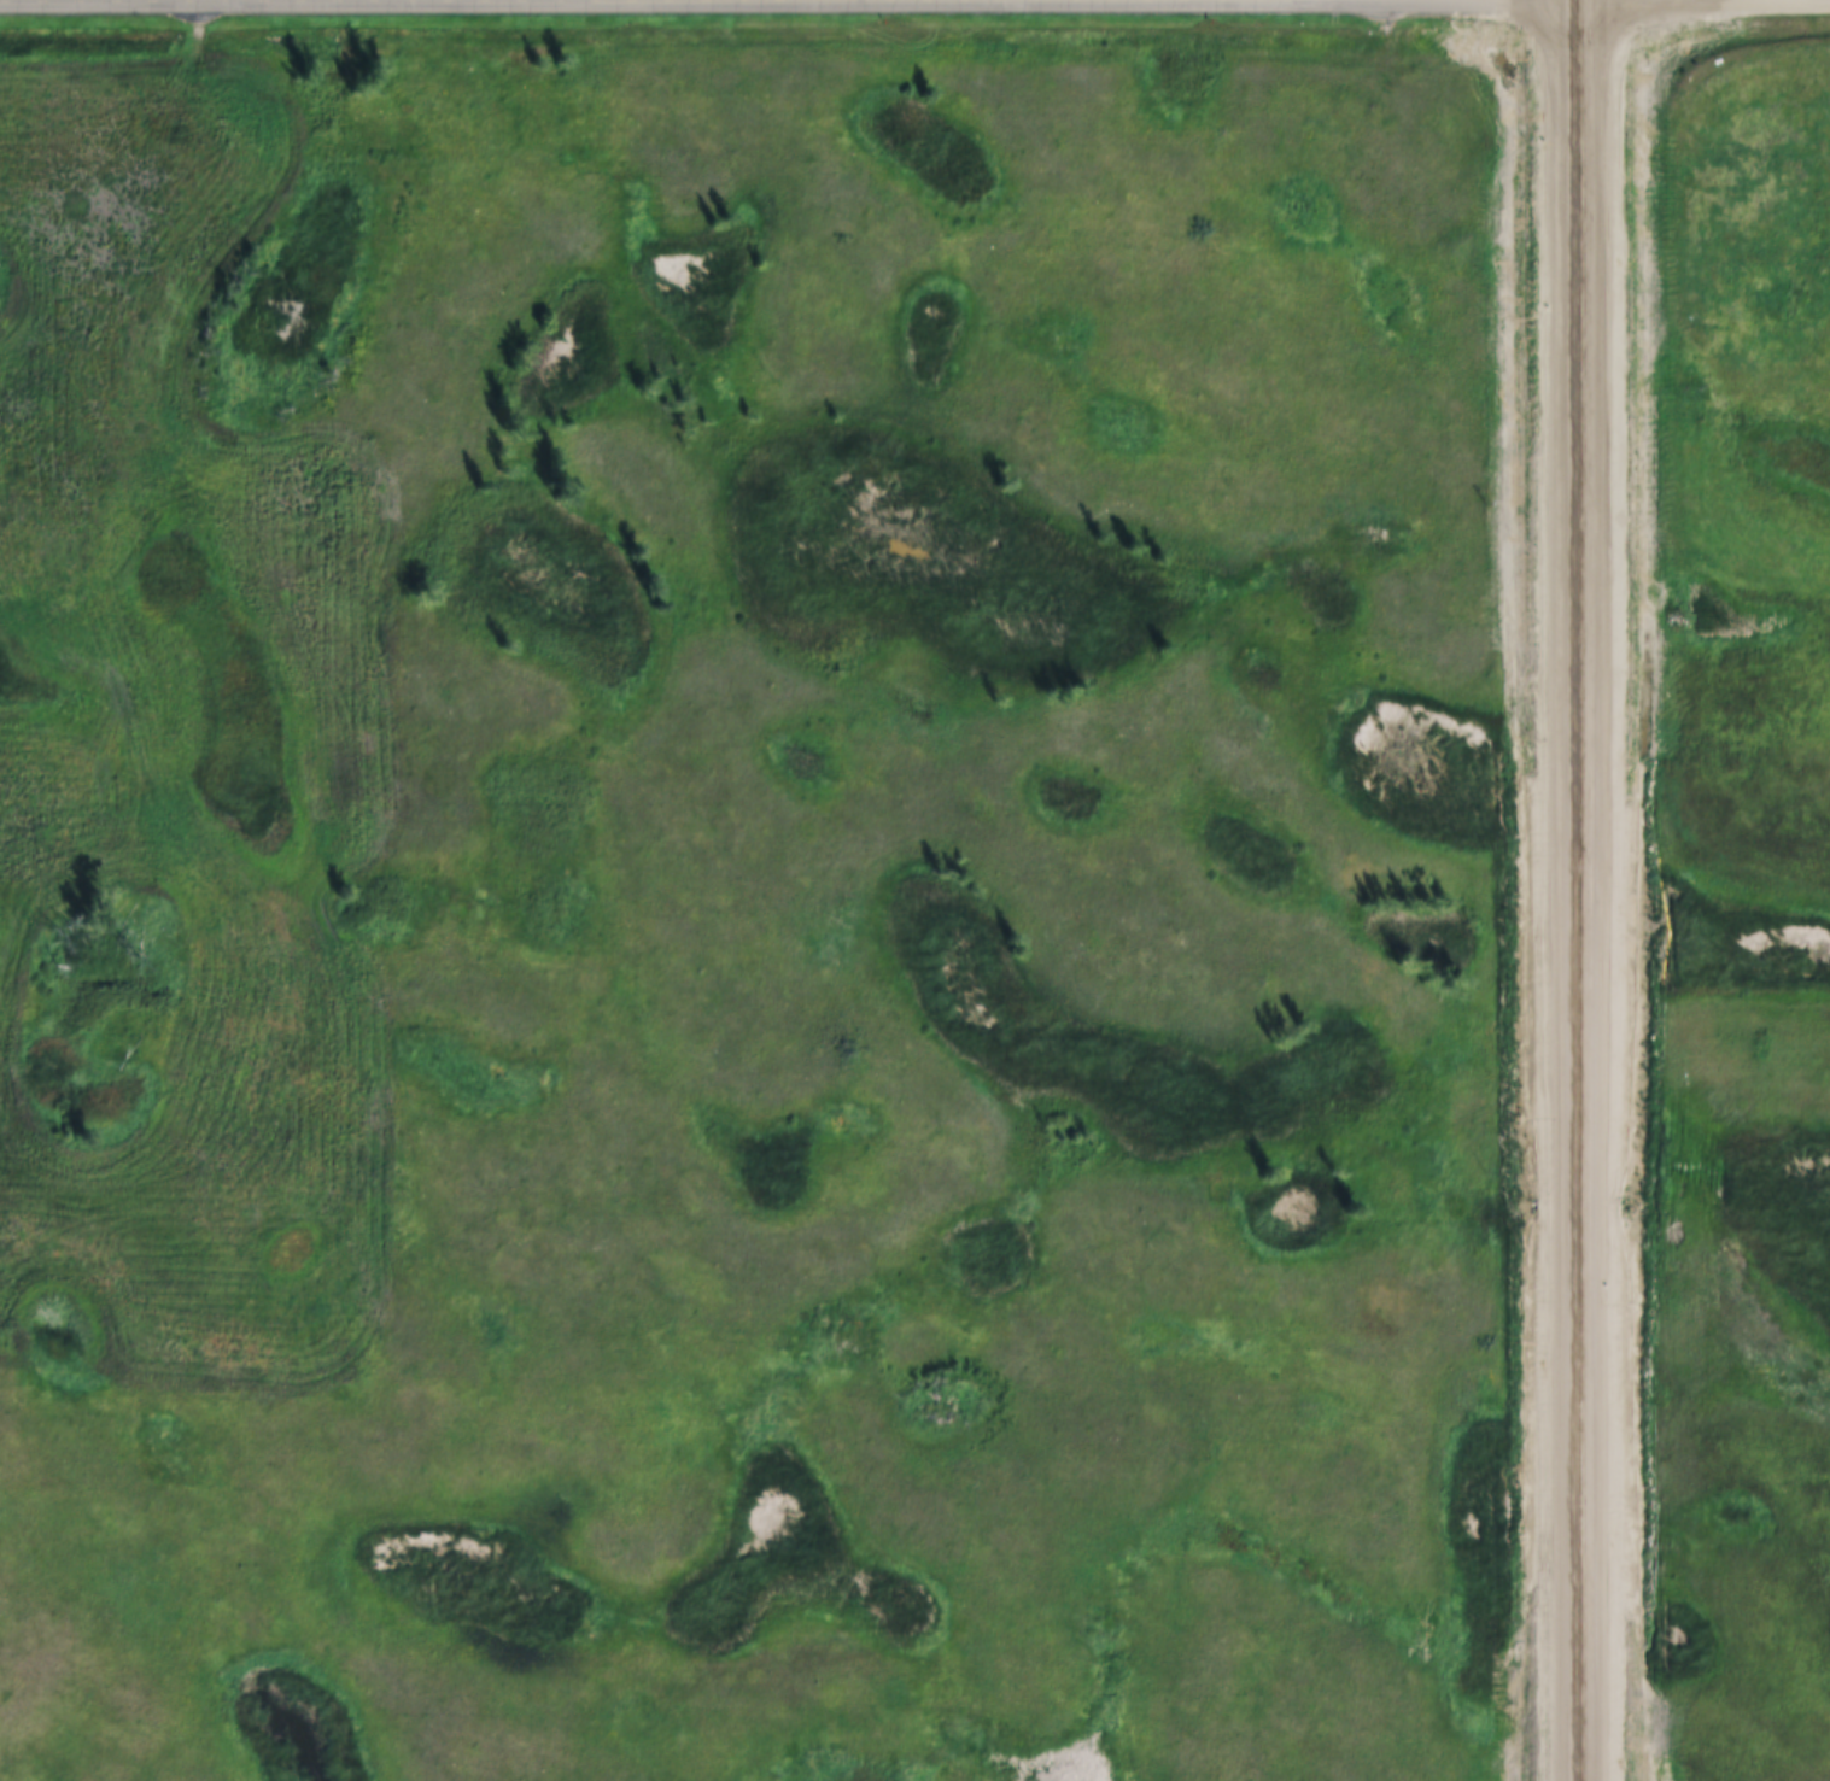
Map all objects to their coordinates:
road: (725, 1)
road: (1581, 890)

